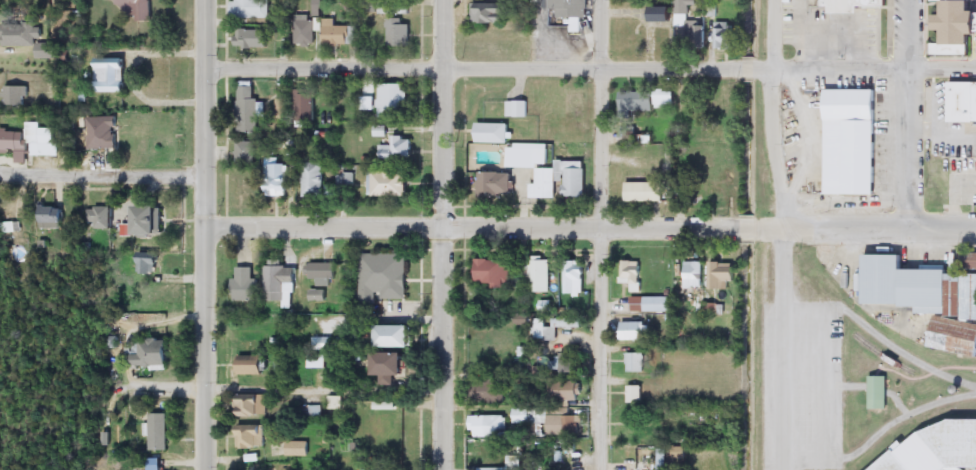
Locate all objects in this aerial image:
building: (852, 2)
building: (134, 8)
building: (569, 8)
building: (251, 9)
building: (491, 13)
building: (673, 13)
building: (955, 28)
building: (304, 33)
building: (397, 33)
building: (339, 35)
building: (724, 36)
building: (28, 37)
building: (253, 39)
road: (588, 62)
building: (111, 73)
building: (15, 95)
building: (365, 97)
building: (391, 98)
building: (646, 101)
building: (963, 102)
building: (305, 105)
building: (577, 105)
building: (248, 109)
building: (282, 109)
building: (517, 109)
road: (910, 111)
road: (771, 113)
building: (103, 132)
building: (493, 133)
building: (26, 139)
building: (852, 141)
building: (396, 149)
building: (245, 154)
building: (552, 171)
road: (103, 174)
building: (277, 180)
building: (313, 180)
building: (388, 184)
building: (495, 185)
building: (644, 191)
building: (54, 217)
building: (101, 217)
building: (150, 221)
road: (591, 223)
road: (205, 234)
road: (441, 235)
road: (600, 235)
railway: (753, 235)
building: (971, 261)
building: (150, 263)
building: (493, 272)
railway: (820, 273)
building: (322, 274)
building: (631, 274)
building: (693, 274)
building: (539, 275)
building: (722, 275)
building: (382, 277)
building: (574, 277)
building: (244, 285)
building: (280, 285)
building: (919, 288)
building: (318, 296)
building: (650, 304)
building: (566, 323)
building: (634, 332)
building: (395, 336)
road: (782, 346)
building: (152, 353)
building: (315, 361)
building: (564, 362)
building: (635, 362)
building: (252, 365)
building: (390, 368)
road: (164, 381)
parking lot: (802, 384)
road: (322, 391)
building: (492, 392)
building: (568, 392)
building: (878, 392)
building: (635, 394)
building: (336, 403)
building: (250, 404)
building: (310, 413)
building: (519, 416)
building: (563, 425)
building: (488, 426)
building: (159, 432)
road: (879, 432)
building: (251, 436)
building: (296, 449)
building: (936, 449)
building: (660, 459)
building: (256, 466)

